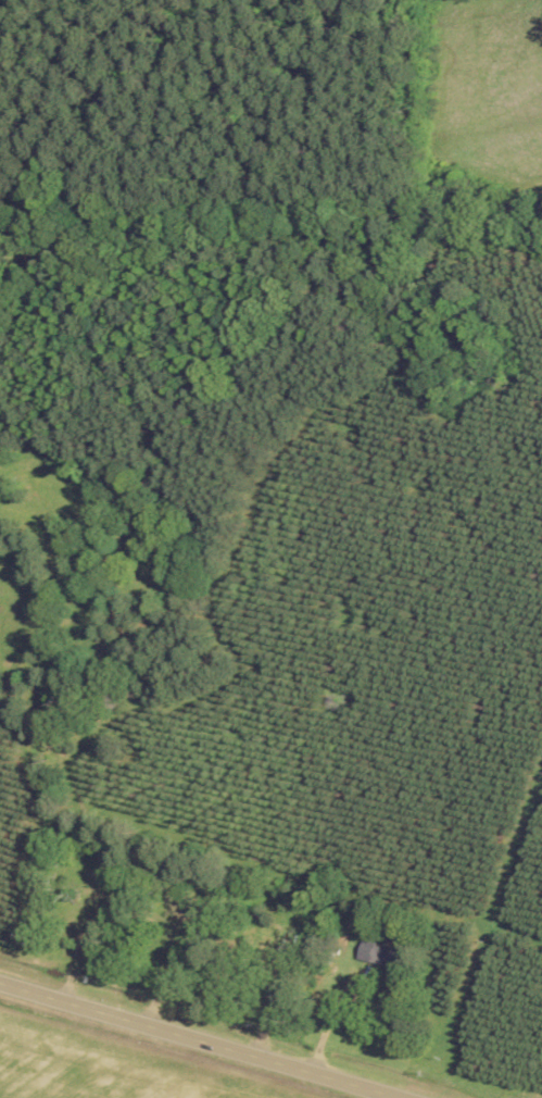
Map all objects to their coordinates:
building: (90, 891)
building: (383, 953)
road: (207, 1037)

